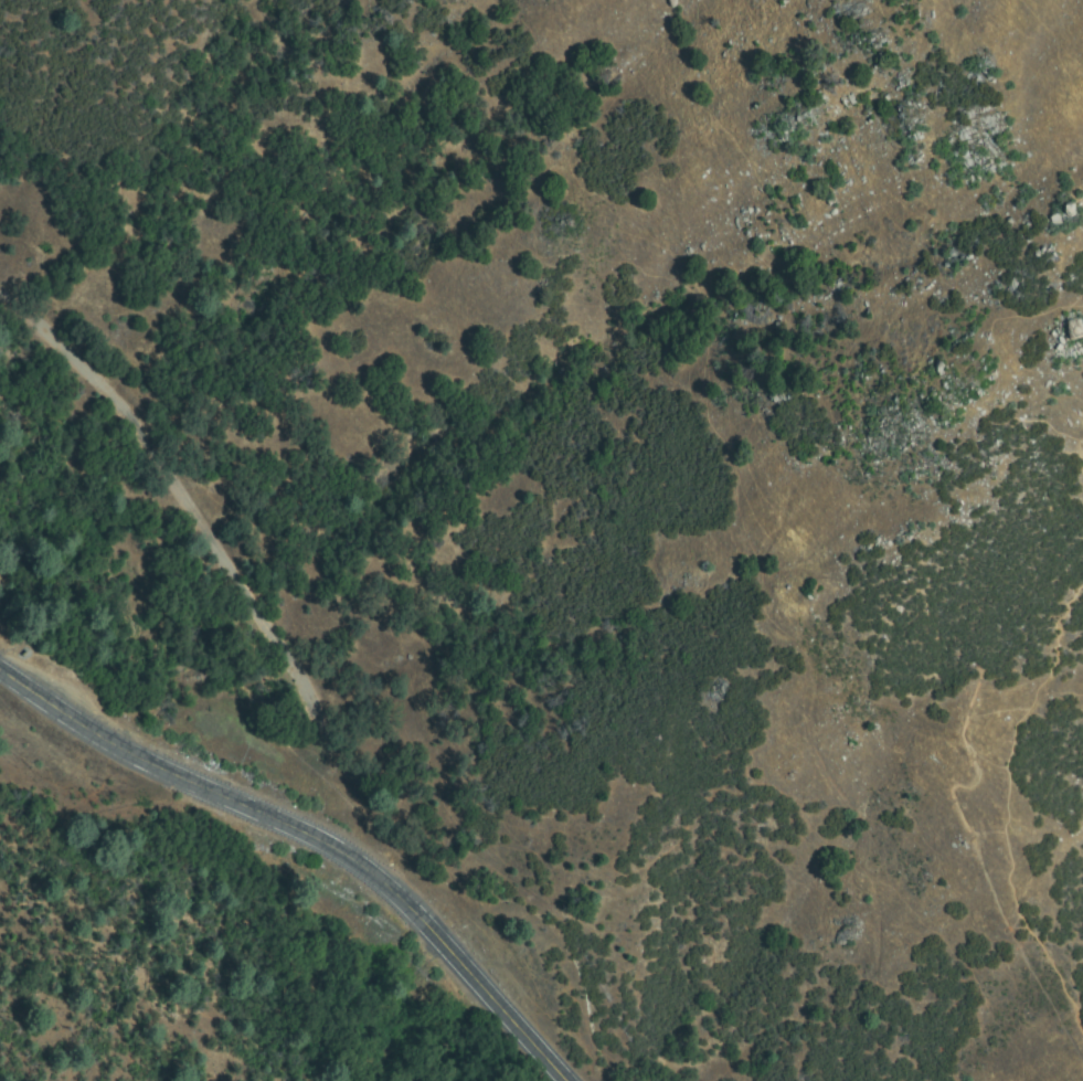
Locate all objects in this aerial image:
road: (311, 837)

